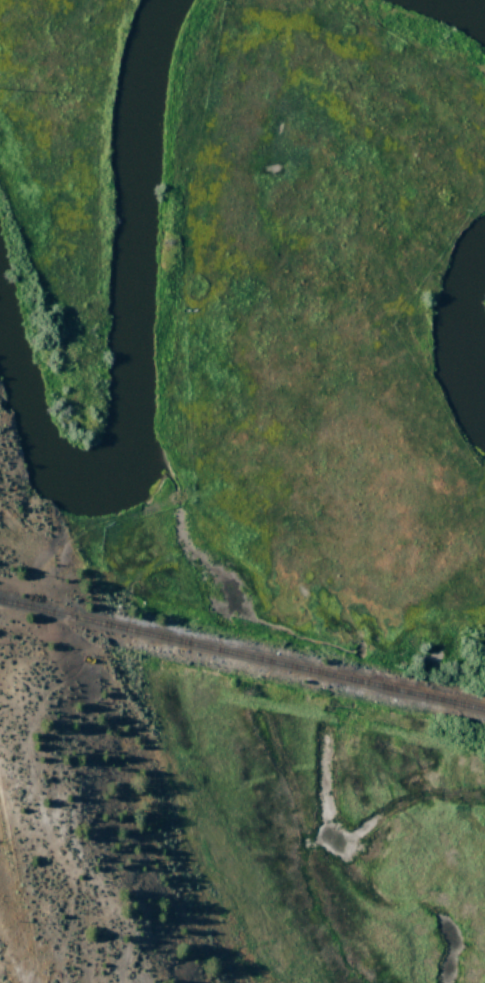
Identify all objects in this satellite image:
river: (459, 14)
river: (145, 107)
river: (478, 304)
river: (120, 464)
railway: (242, 657)

